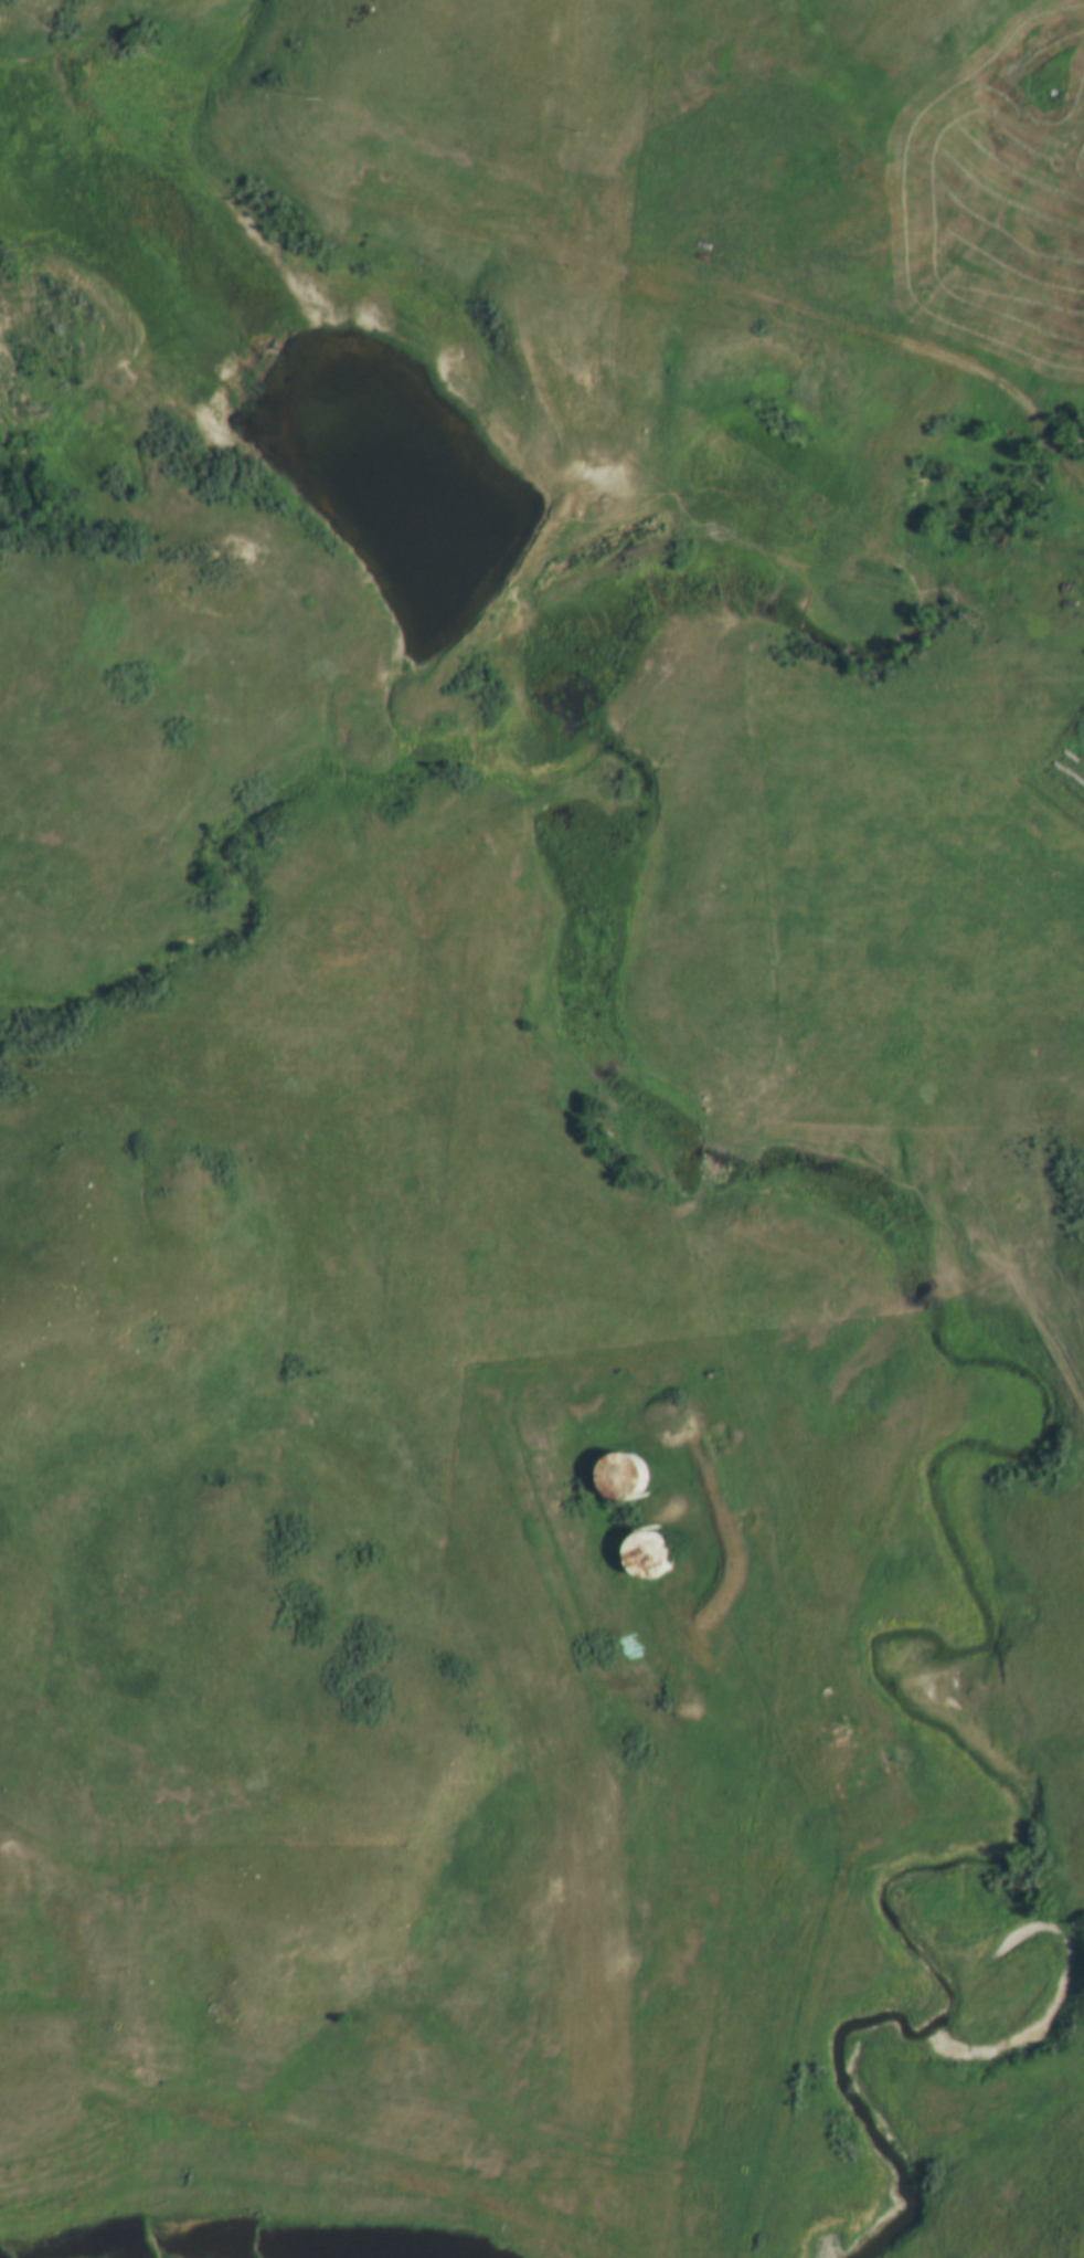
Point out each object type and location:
building: (617, 1477)
building: (645, 1555)

